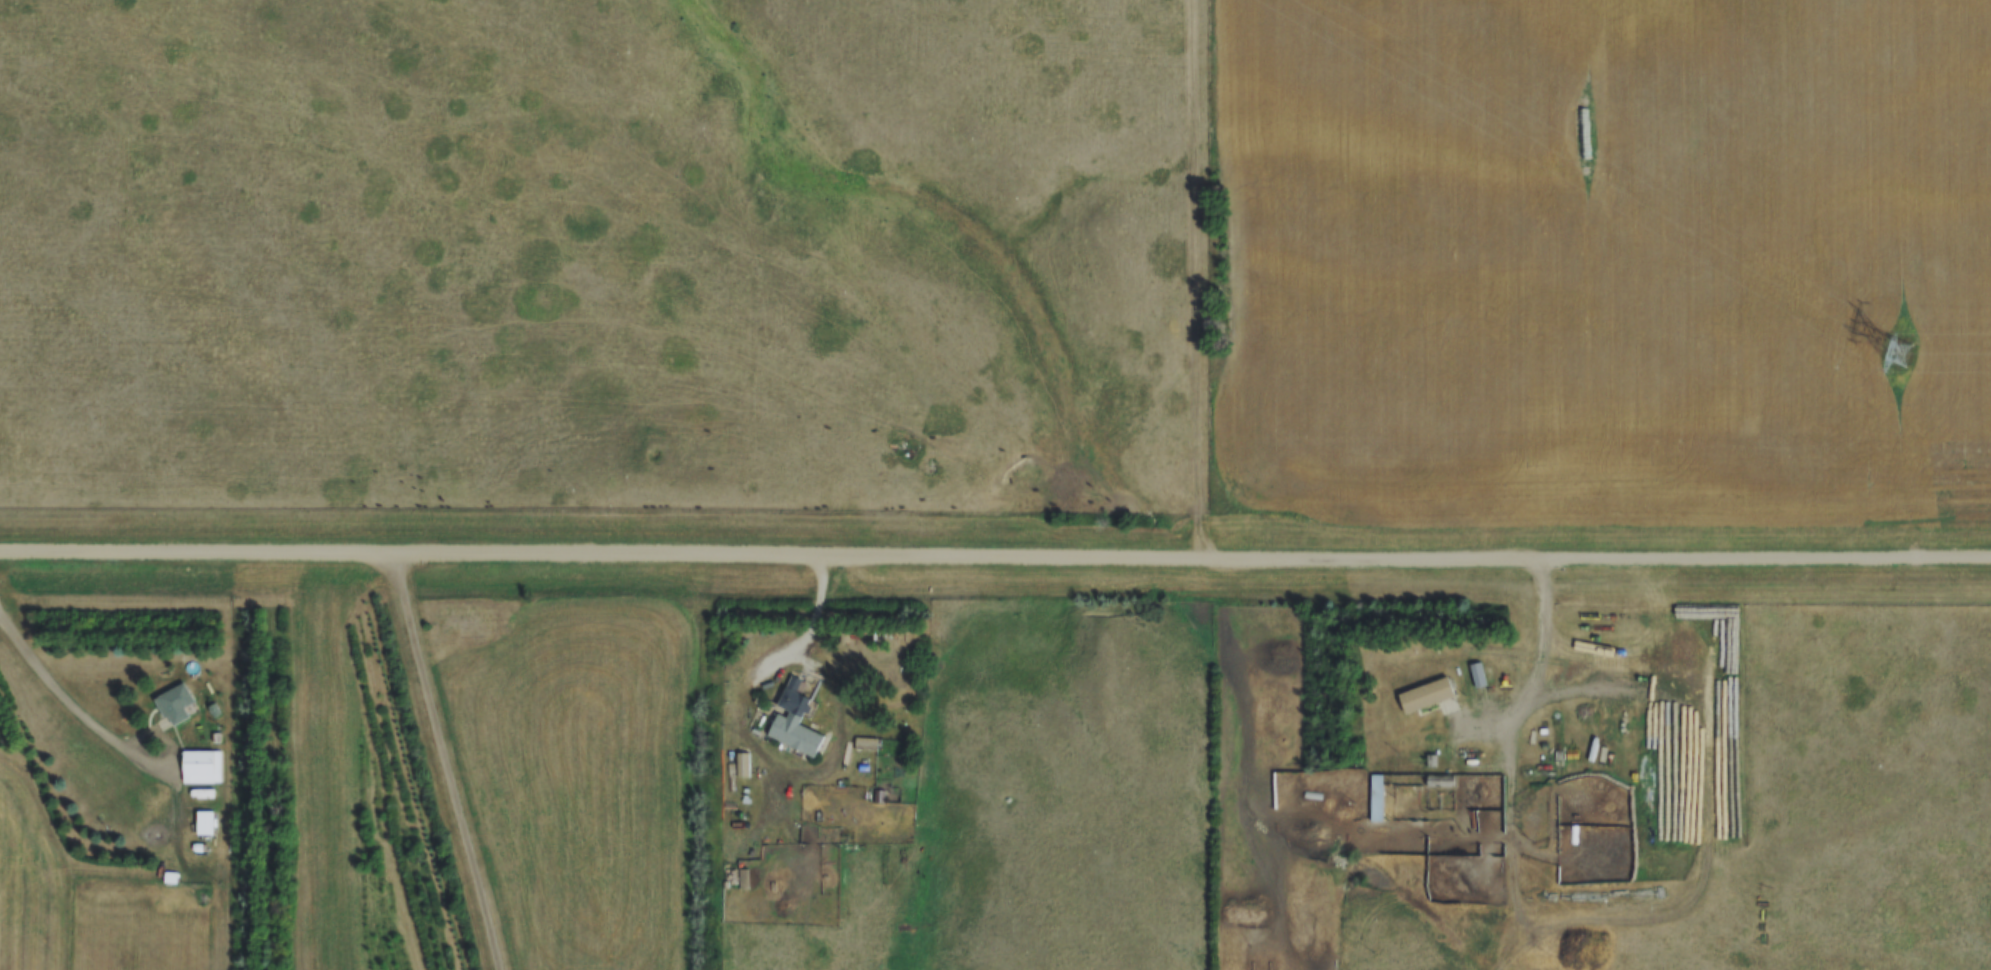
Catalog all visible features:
power tower: (1901, 355)
road: (995, 555)
road: (816, 614)
road: (1539, 669)
building: (1429, 694)
road: (70, 702)
building: (177, 703)
building: (797, 719)
building: (867, 743)
road: (447, 759)
building: (744, 763)
building: (200, 766)
building: (1378, 797)
building: (745, 877)
building: (1258, 962)

